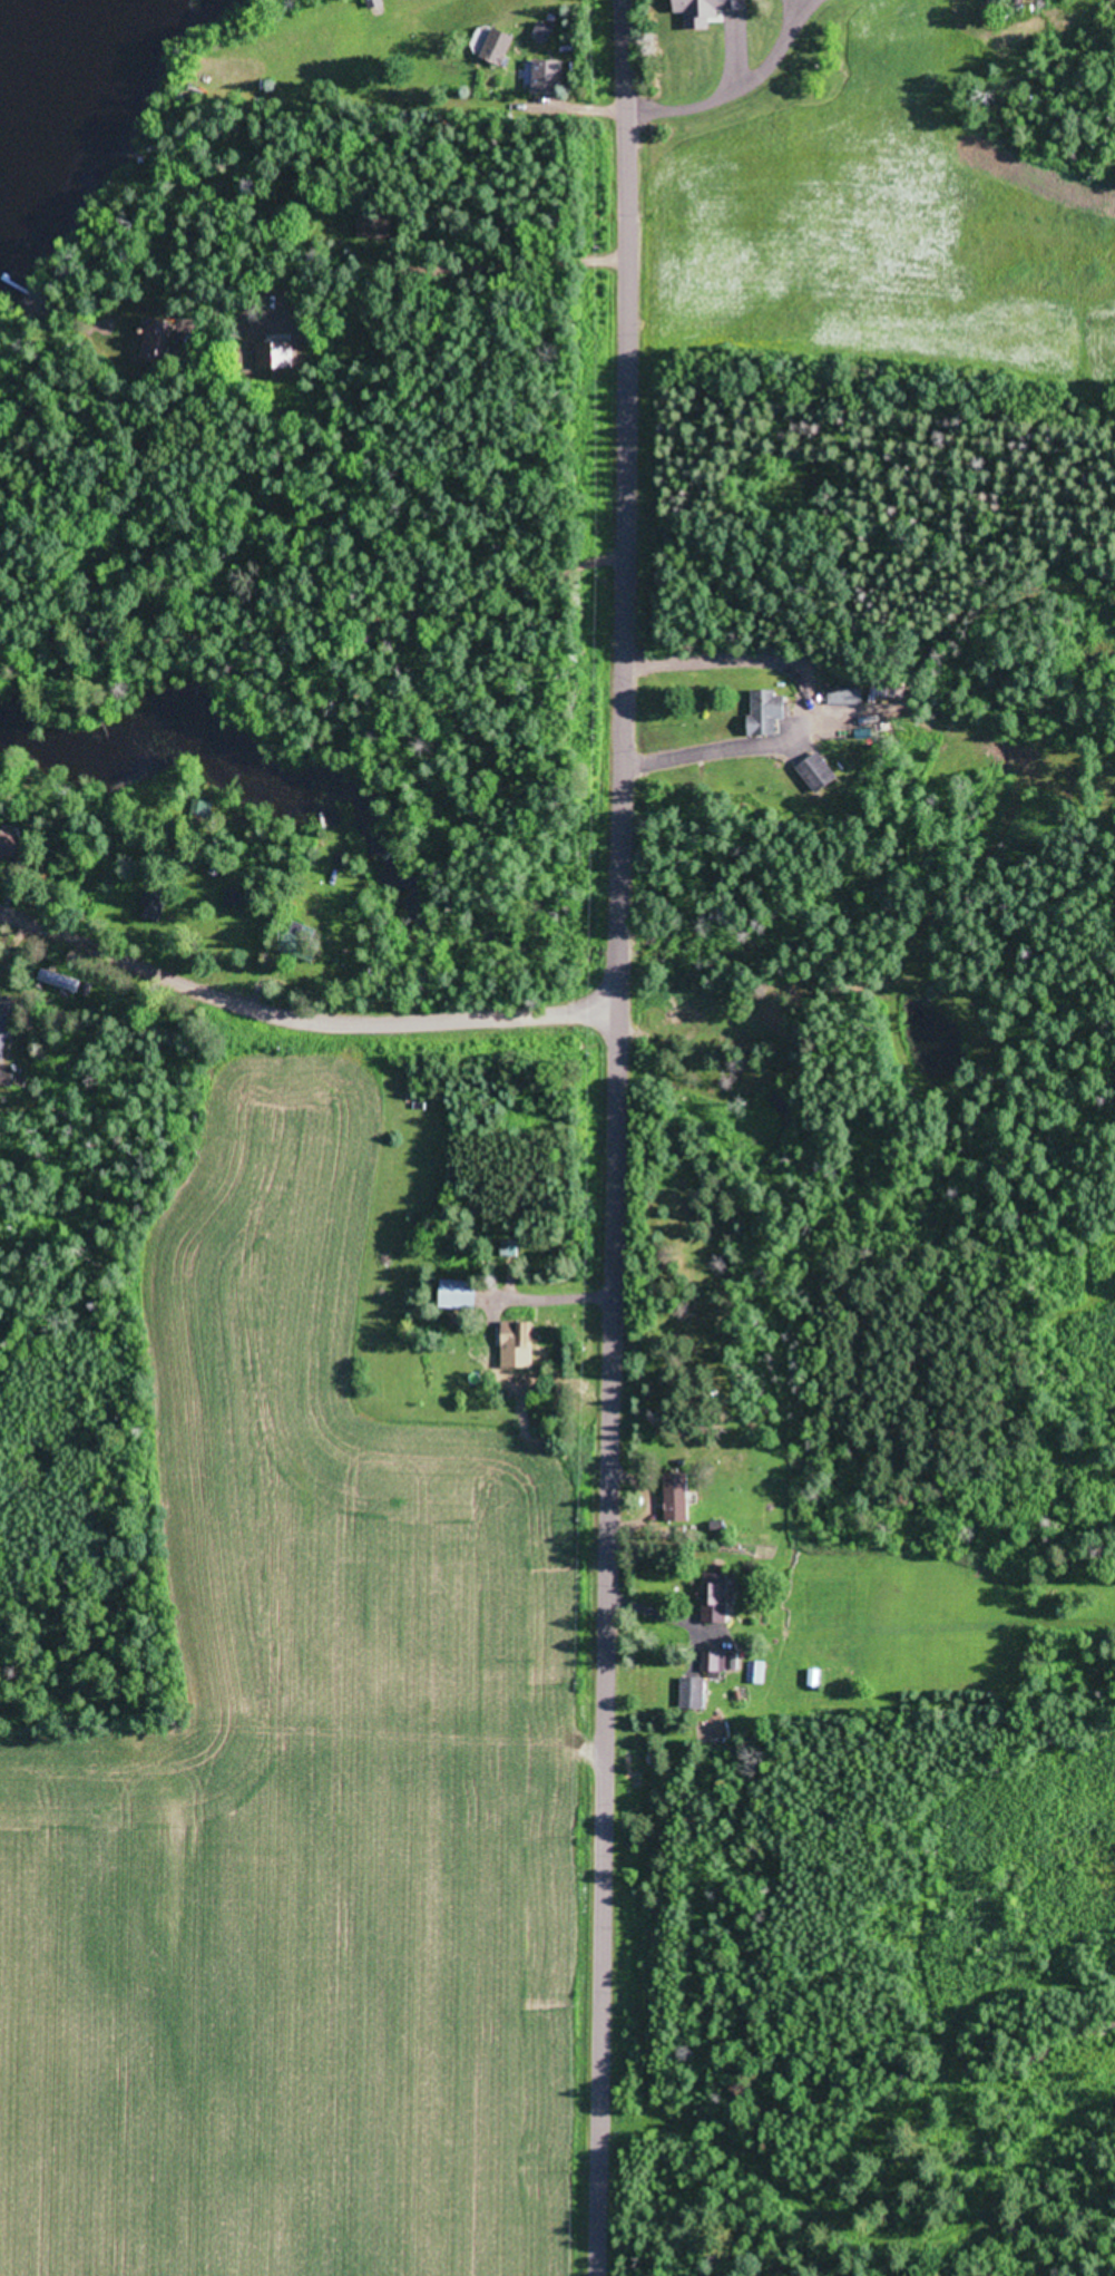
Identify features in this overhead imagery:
road: (737, 90)
road: (585, 101)
road: (605, 257)
road: (630, 279)
building: (843, 693)
building: (764, 711)
building: (816, 770)
building: (59, 981)
road: (300, 1014)
building: (3, 1035)
building: (458, 1291)
road: (614, 1416)
building: (717, 1602)

